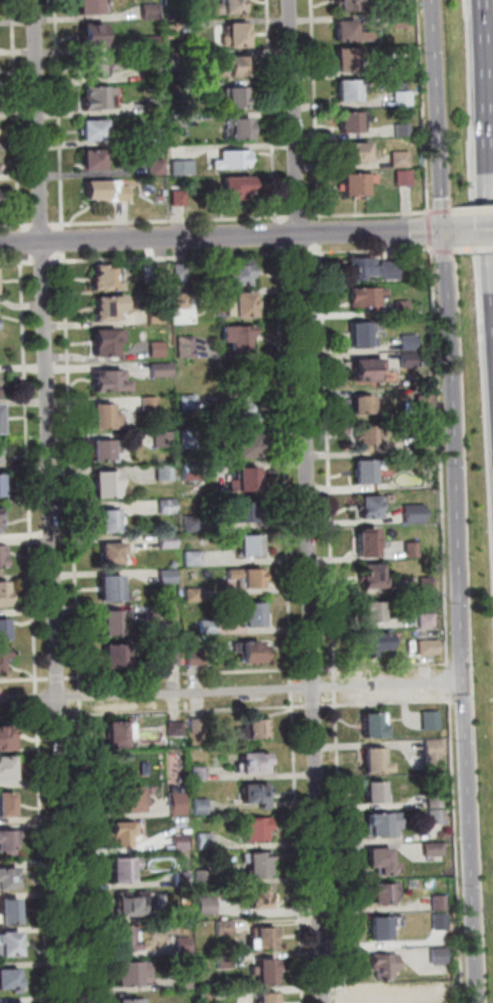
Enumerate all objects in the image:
building: (174, 4)
building: (88, 5)
building: (342, 5)
building: (229, 6)
building: (148, 9)
building: (398, 20)
building: (176, 31)
building: (341, 31)
building: (232, 33)
building: (89, 35)
building: (148, 41)
building: (345, 58)
building: (92, 65)
building: (228, 65)
building: (401, 67)
building: (346, 88)
building: (230, 95)
building: (89, 96)
building: (401, 99)
building: (154, 105)
road: (419, 106)
road: (311, 109)
road: (269, 111)
road: (16, 115)
road: (438, 115)
road: (294, 117)
building: (175, 119)
building: (347, 120)
building: (232, 125)
building: (88, 128)
building: (402, 131)
building: (151, 136)
road: (486, 143)
building: (351, 149)
building: (230, 157)
building: (88, 158)
building: (399, 160)
building: (179, 162)
building: (154, 167)
building: (403, 179)
building: (348, 182)
building: (232, 187)
building: (94, 188)
building: (117, 190)
building: (175, 196)
road: (474, 210)
road: (453, 211)
road: (365, 212)
road: (295, 216)
road: (58, 222)
road: (62, 222)
road: (40, 223)
road: (15, 224)
road: (428, 230)
road: (315, 231)
road: (475, 231)
traffic signals: (444, 232)
road: (450, 232)
road: (274, 233)
road: (221, 236)
road: (66, 239)
road: (22, 240)
road: (294, 250)
road: (475, 250)
road: (368, 251)
road: (455, 251)
road: (169, 255)
road: (46, 260)
road: (18, 262)
building: (353, 265)
building: (389, 270)
building: (235, 272)
building: (102, 277)
building: (362, 294)
building: (183, 301)
building: (238, 303)
building: (105, 307)
building: (400, 308)
building: (158, 315)
building: (359, 331)
building: (235, 336)
building: (104, 340)
building: (407, 343)
building: (187, 348)
building: (159, 349)
building: (406, 361)
building: (358, 366)
building: (163, 370)
building: (108, 379)
building: (0, 393)
building: (189, 403)
building: (152, 404)
building: (356, 404)
building: (241, 410)
building: (104, 414)
building: (1, 421)
building: (360, 434)
building: (165, 440)
building: (190, 440)
building: (242, 444)
building: (423, 446)
building: (104, 449)
road: (440, 455)
road: (285, 464)
building: (360, 470)
road: (31, 472)
building: (193, 472)
building: (168, 473)
building: (249, 482)
building: (106, 483)
building: (2, 487)
road: (53, 501)
building: (362, 505)
building: (169, 507)
building: (242, 510)
road: (329, 511)
building: (414, 514)
building: (1, 521)
building: (111, 523)
building: (194, 523)
building: (361, 540)
building: (170, 542)
building: (252, 548)
building: (412, 551)
building: (112, 552)
building: (4, 556)
building: (195, 559)
building: (176, 565)
building: (365, 574)
road: (78, 576)
building: (246, 576)
building: (170, 577)
building: (428, 586)
building: (114, 591)
building: (195, 595)
building: (4, 596)
building: (366, 611)
road: (462, 617)
building: (256, 618)
road: (313, 618)
building: (427, 621)
building: (115, 625)
building: (211, 627)
building: (5, 632)
building: (370, 640)
building: (429, 649)
building: (251, 651)
building: (197, 657)
building: (3, 658)
building: (118, 659)
building: (176, 659)
road: (337, 668)
road: (315, 669)
road: (82, 677)
road: (60, 678)
road: (26, 679)
road: (338, 687)
road: (294, 689)
road: (232, 691)
road: (83, 696)
road: (40, 697)
road: (397, 702)
road: (316, 706)
road: (338, 706)
road: (295, 707)
road: (193, 710)
road: (62, 715)
road: (84, 715)
road: (26, 716)
building: (431, 722)
building: (368, 725)
building: (201, 726)
building: (178, 730)
building: (261, 731)
building: (122, 733)
building: (7, 741)
building: (433, 754)
building: (370, 759)
building: (257, 765)
building: (8, 771)
building: (202, 773)
building: (374, 792)
building: (259, 797)
building: (129, 802)
building: (436, 803)
building: (8, 805)
building: (181, 805)
building: (203, 807)
building: (437, 819)
building: (380, 824)
building: (256, 829)
building: (126, 838)
building: (208, 841)
building: (10, 843)
building: (183, 843)
building: (435, 851)
road: (44, 852)
building: (374, 859)
building: (260, 865)
building: (127, 872)
building: (184, 873)
building: (205, 876)
building: (9, 882)
building: (380, 892)
building: (262, 898)
building: (440, 905)
building: (133, 906)
building: (209, 906)
building: (12, 913)
building: (186, 913)
building: (381, 924)
building: (441, 924)
building: (226, 928)
building: (265, 939)
building: (127, 941)
building: (187, 946)
building: (11, 947)
building: (440, 957)
building: (227, 960)
building: (382, 965)
building: (268, 973)
building: (134, 975)
building: (11, 982)
building: (188, 982)
building: (210, 994)
building: (378, 995)
building: (270, 998)
building: (129, 1000)
building: (11, 1002)

